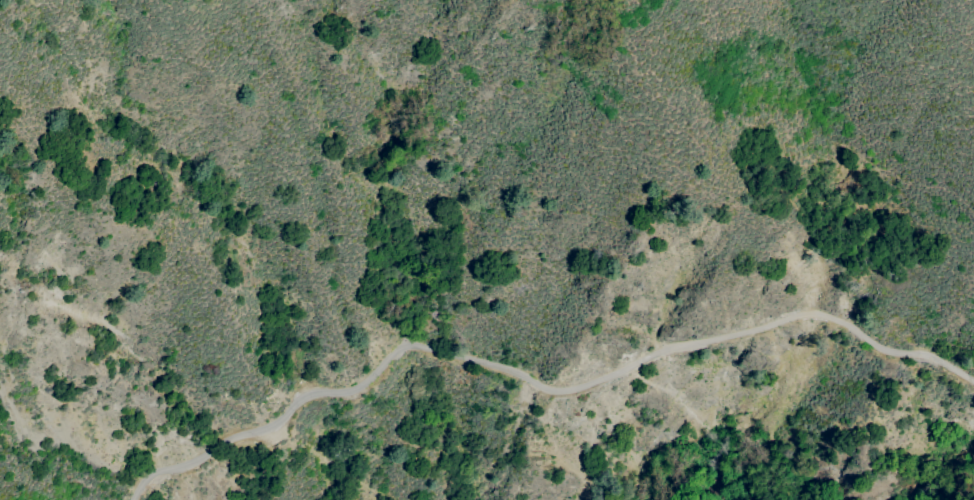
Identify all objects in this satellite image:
park: (450, 360)
road: (539, 384)

